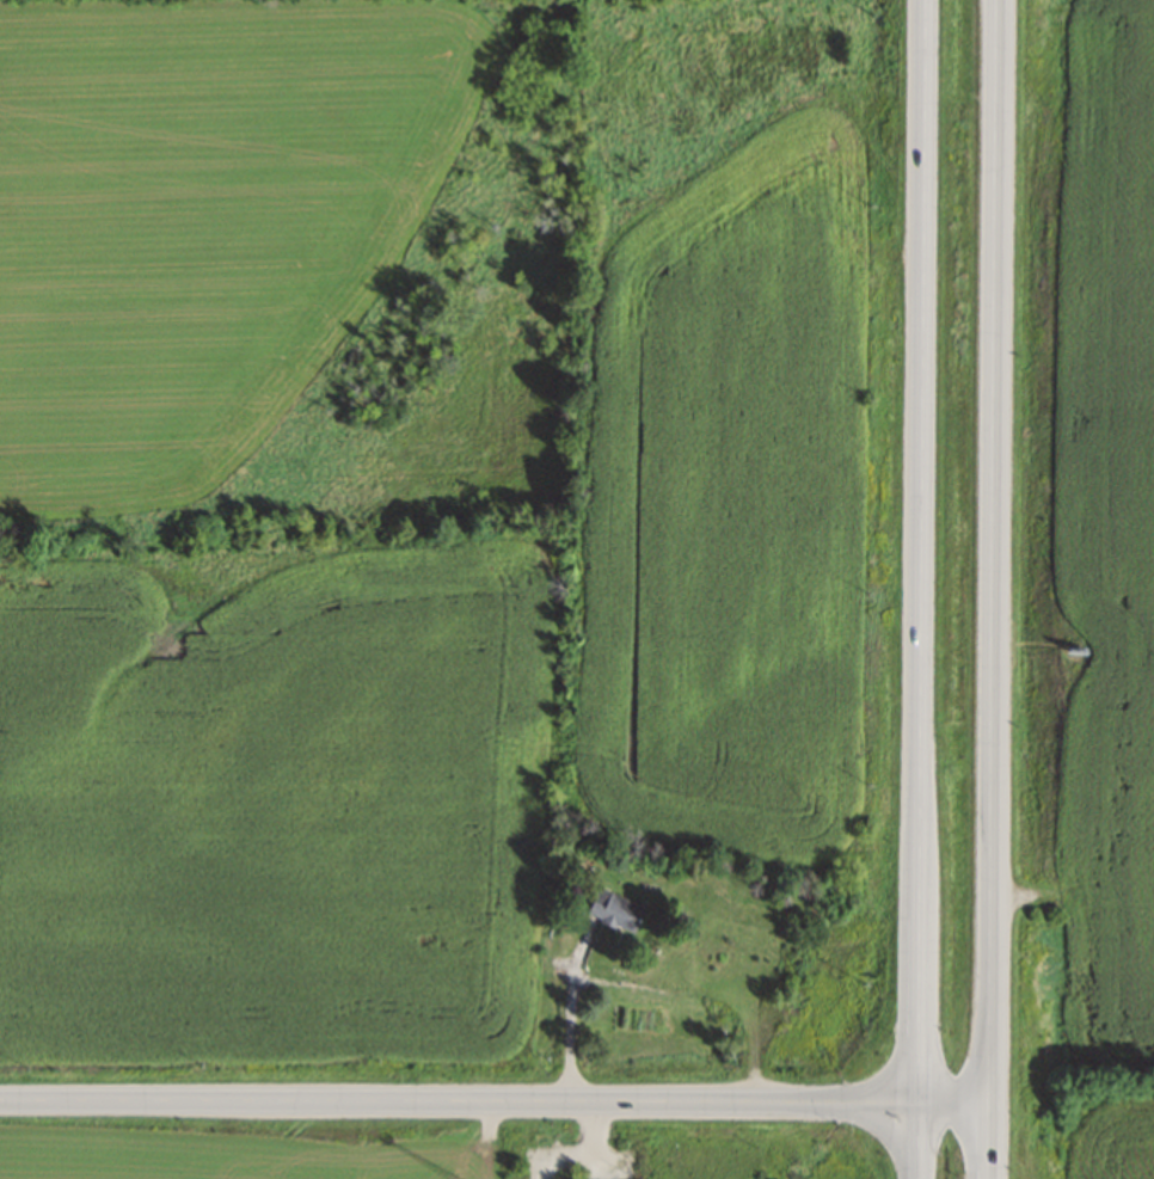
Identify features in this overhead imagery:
road: (920, 589)
road: (990, 589)
building: (613, 909)
road: (566, 1009)
road: (496, 1100)

